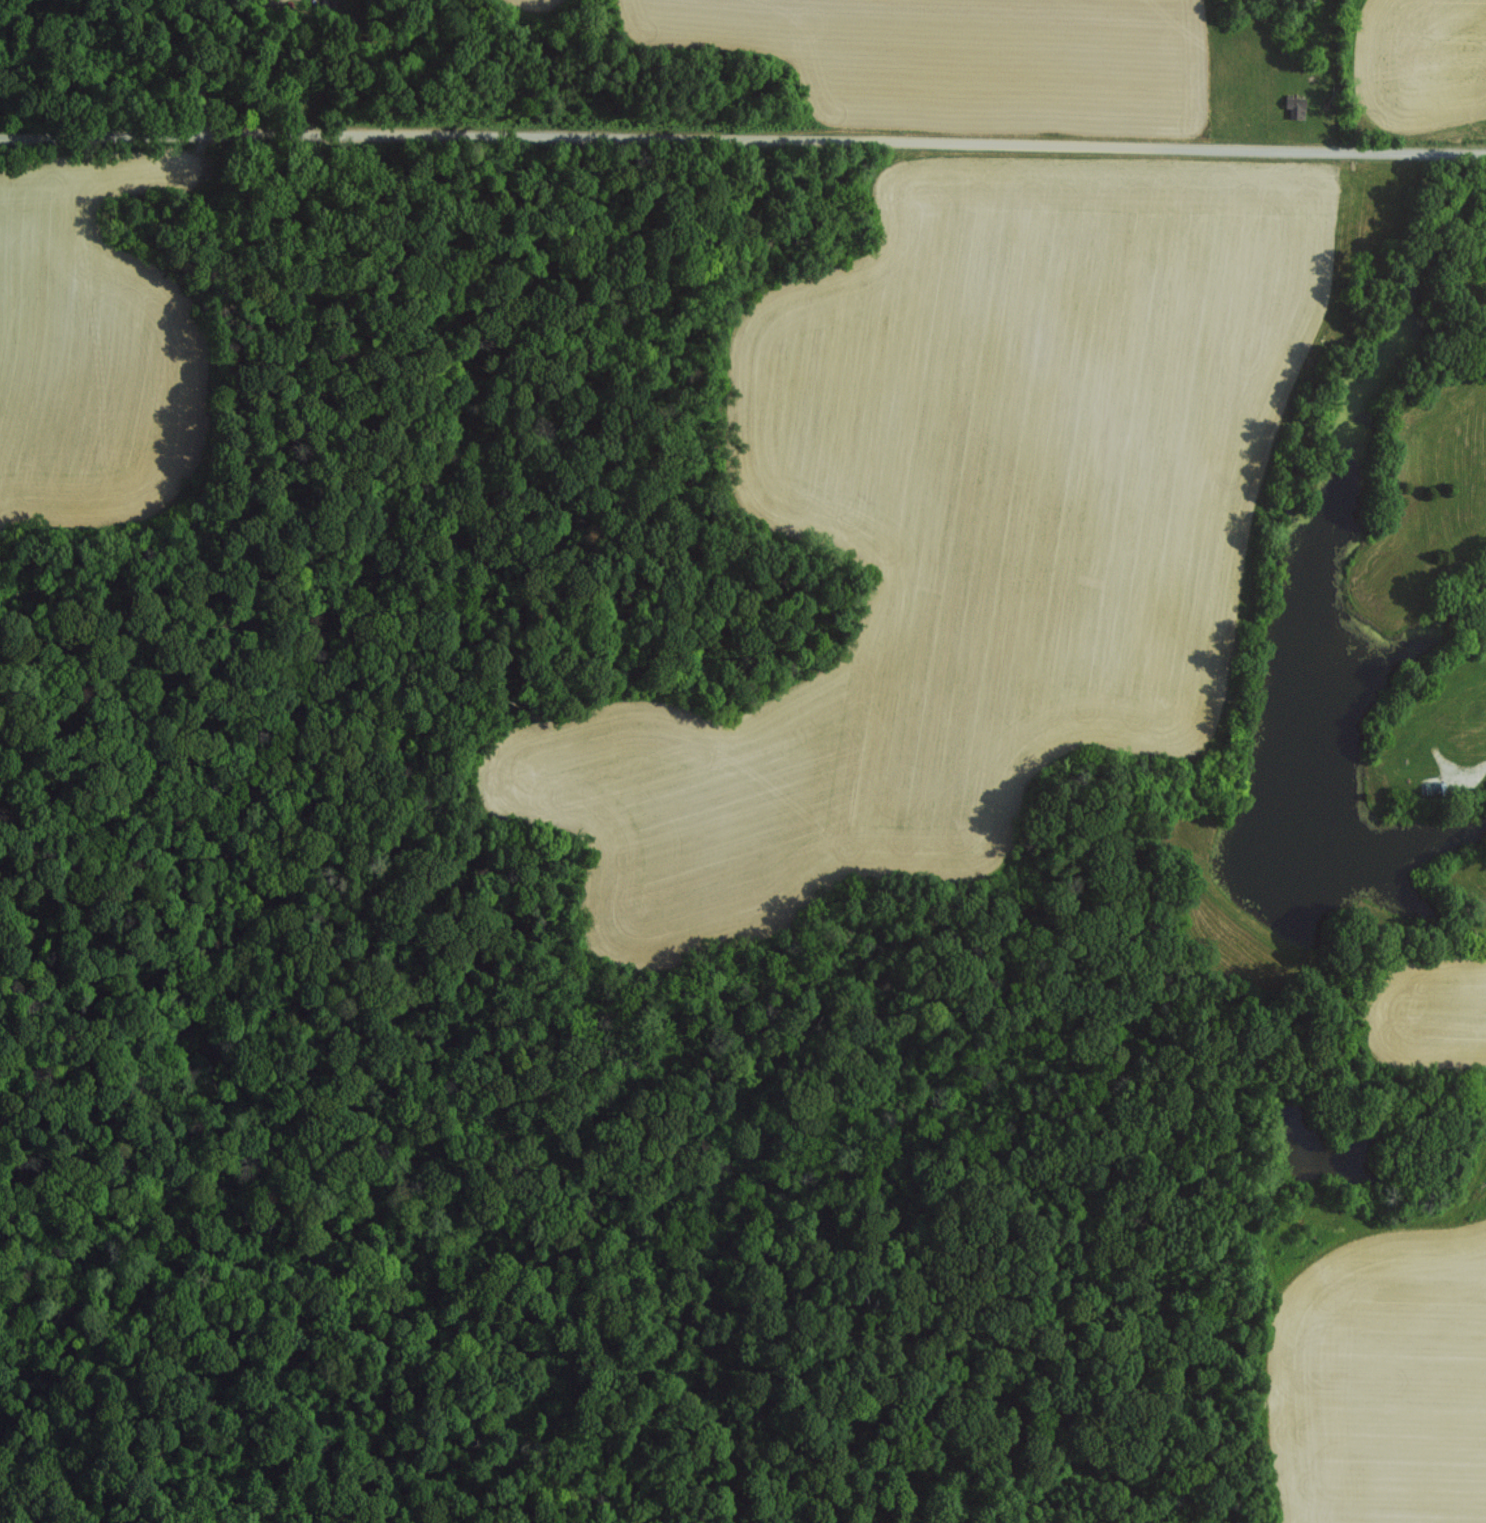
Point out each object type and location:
road: (743, 131)

